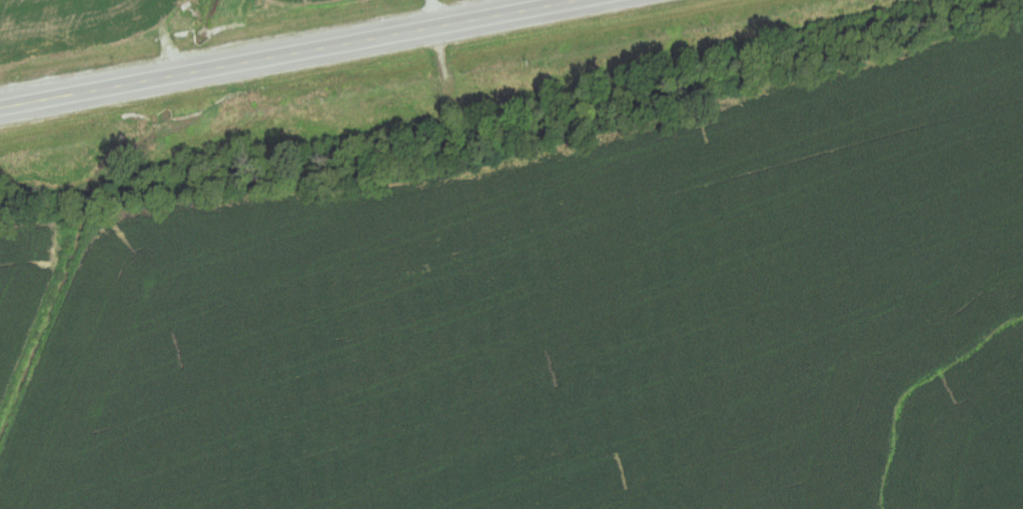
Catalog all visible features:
road: (228, 43)

